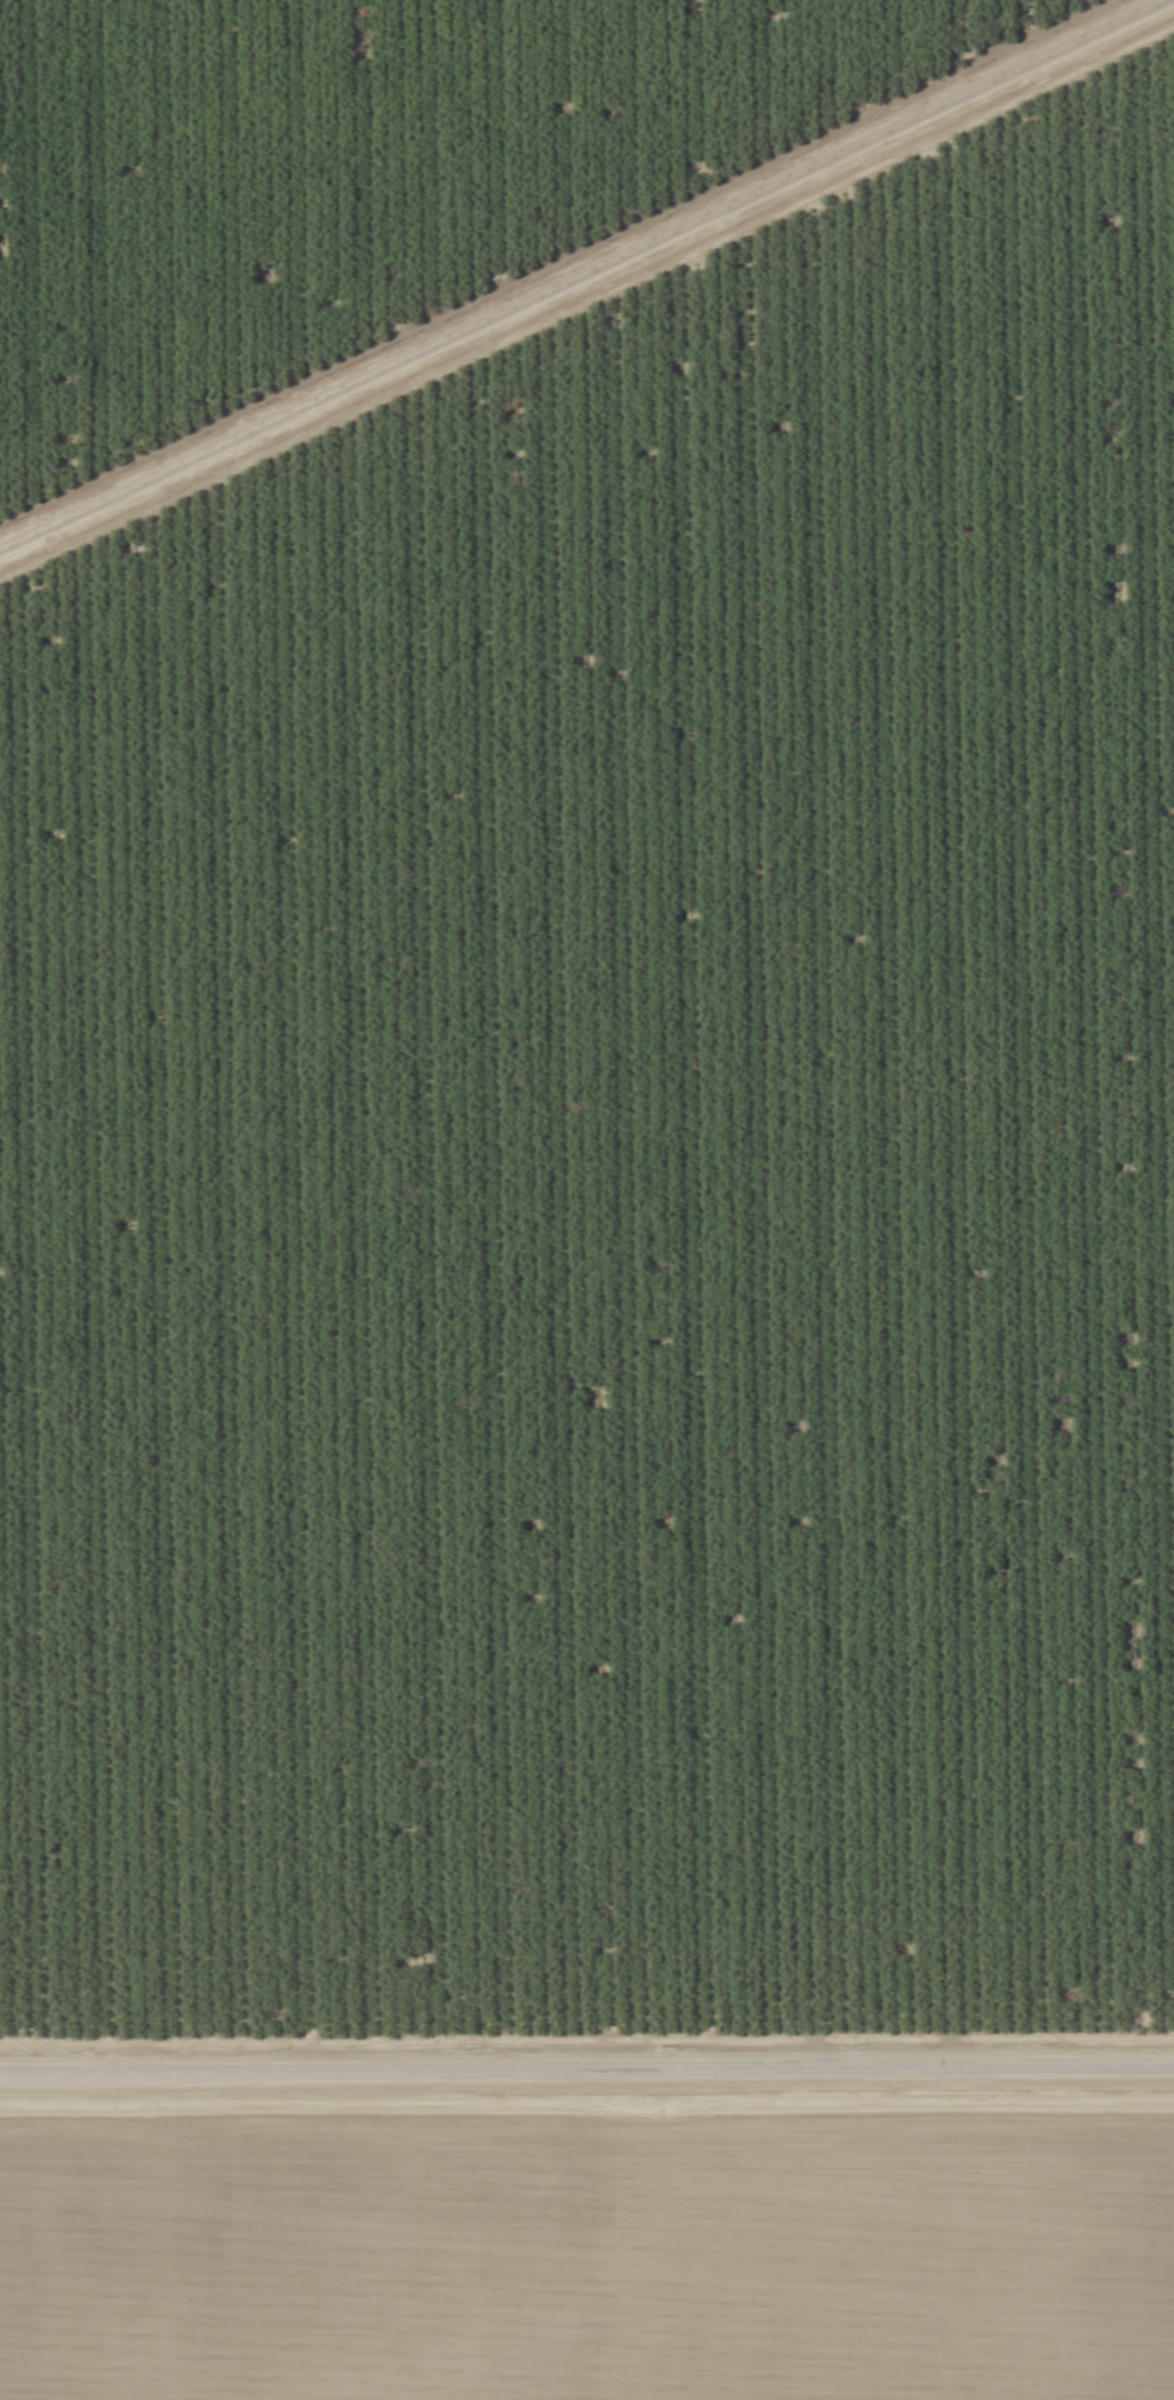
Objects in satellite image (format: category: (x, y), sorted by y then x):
railway: (581, 273)
road: (587, 2067)
crop: (588, 2242)

